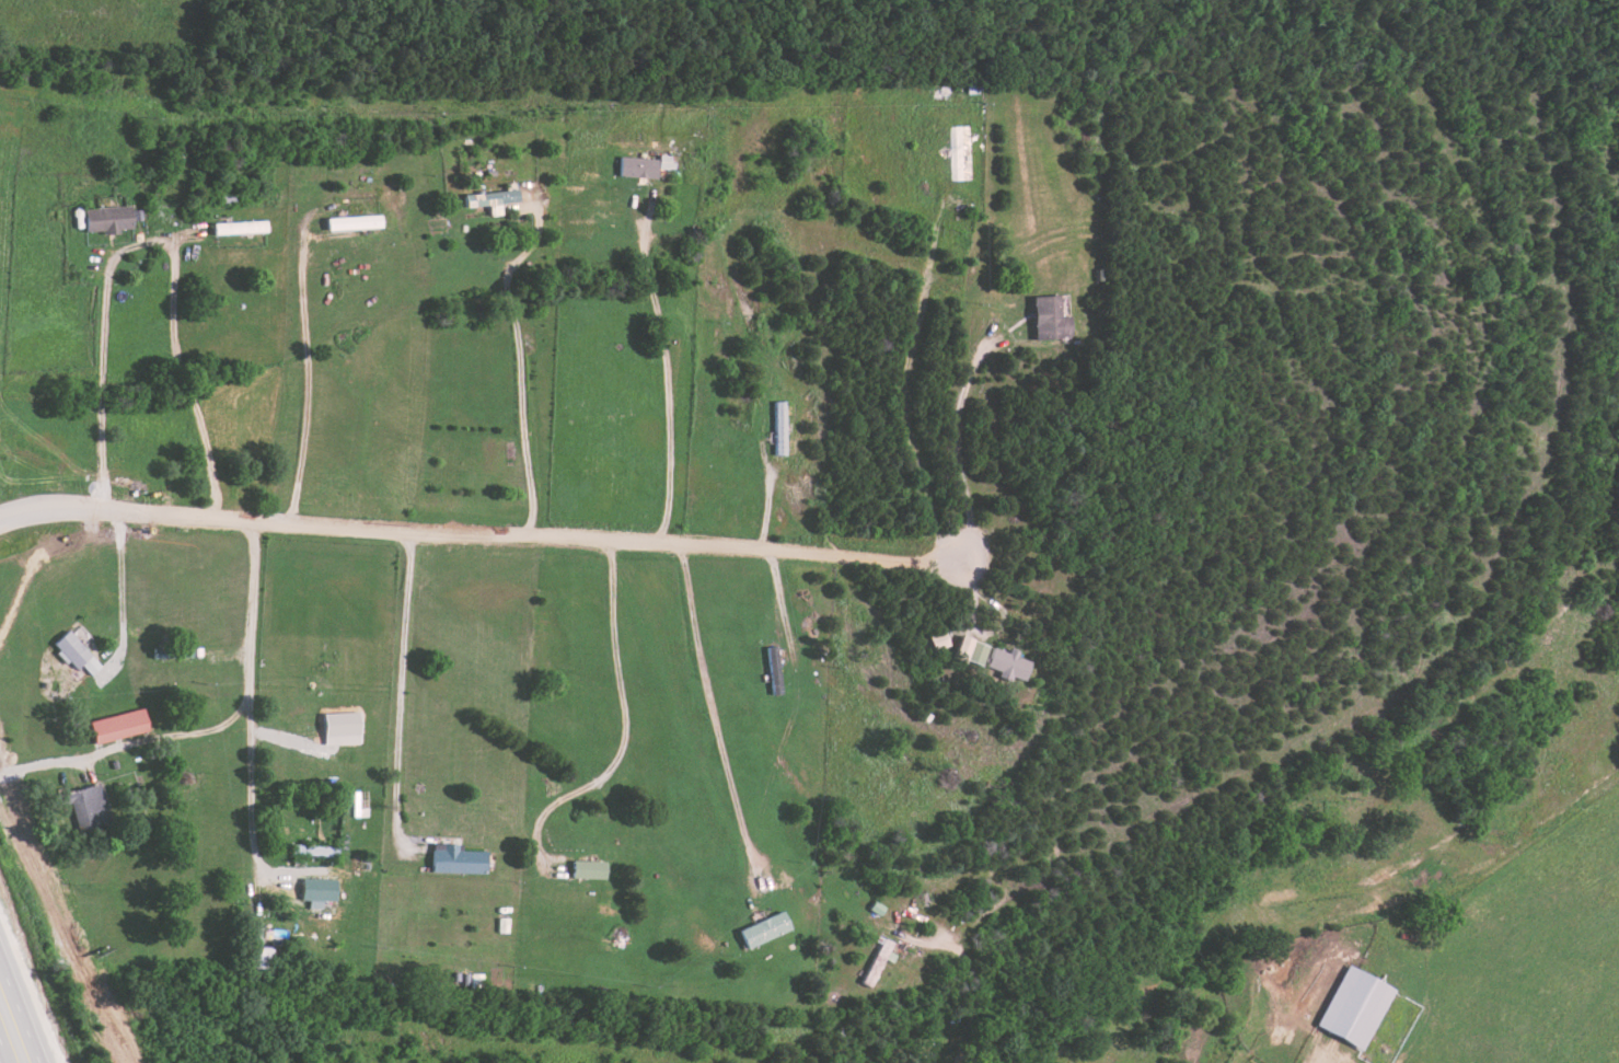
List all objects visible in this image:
building: (667, 162)
building: (638, 167)
building: (490, 200)
building: (106, 220)
building: (352, 222)
building: (239, 228)
road: (151, 244)
building: (1050, 319)
road: (520, 367)
road: (666, 367)
road: (304, 368)
road: (904, 375)
building: (779, 428)
road: (952, 429)
road: (486, 534)
road: (120, 580)
road: (783, 611)
building: (970, 651)
building: (74, 654)
building: (1005, 665)
building: (774, 666)
road: (401, 698)
road: (713, 717)
building: (118, 726)
road: (626, 726)
road: (216, 728)
road: (251, 795)
building: (88, 806)
building: (456, 859)
building: (588, 869)
building: (319, 892)
building: (762, 929)
building: (261, 958)
building: (875, 961)
building: (1353, 1007)
road: (18, 1018)
road: (1, 1058)

